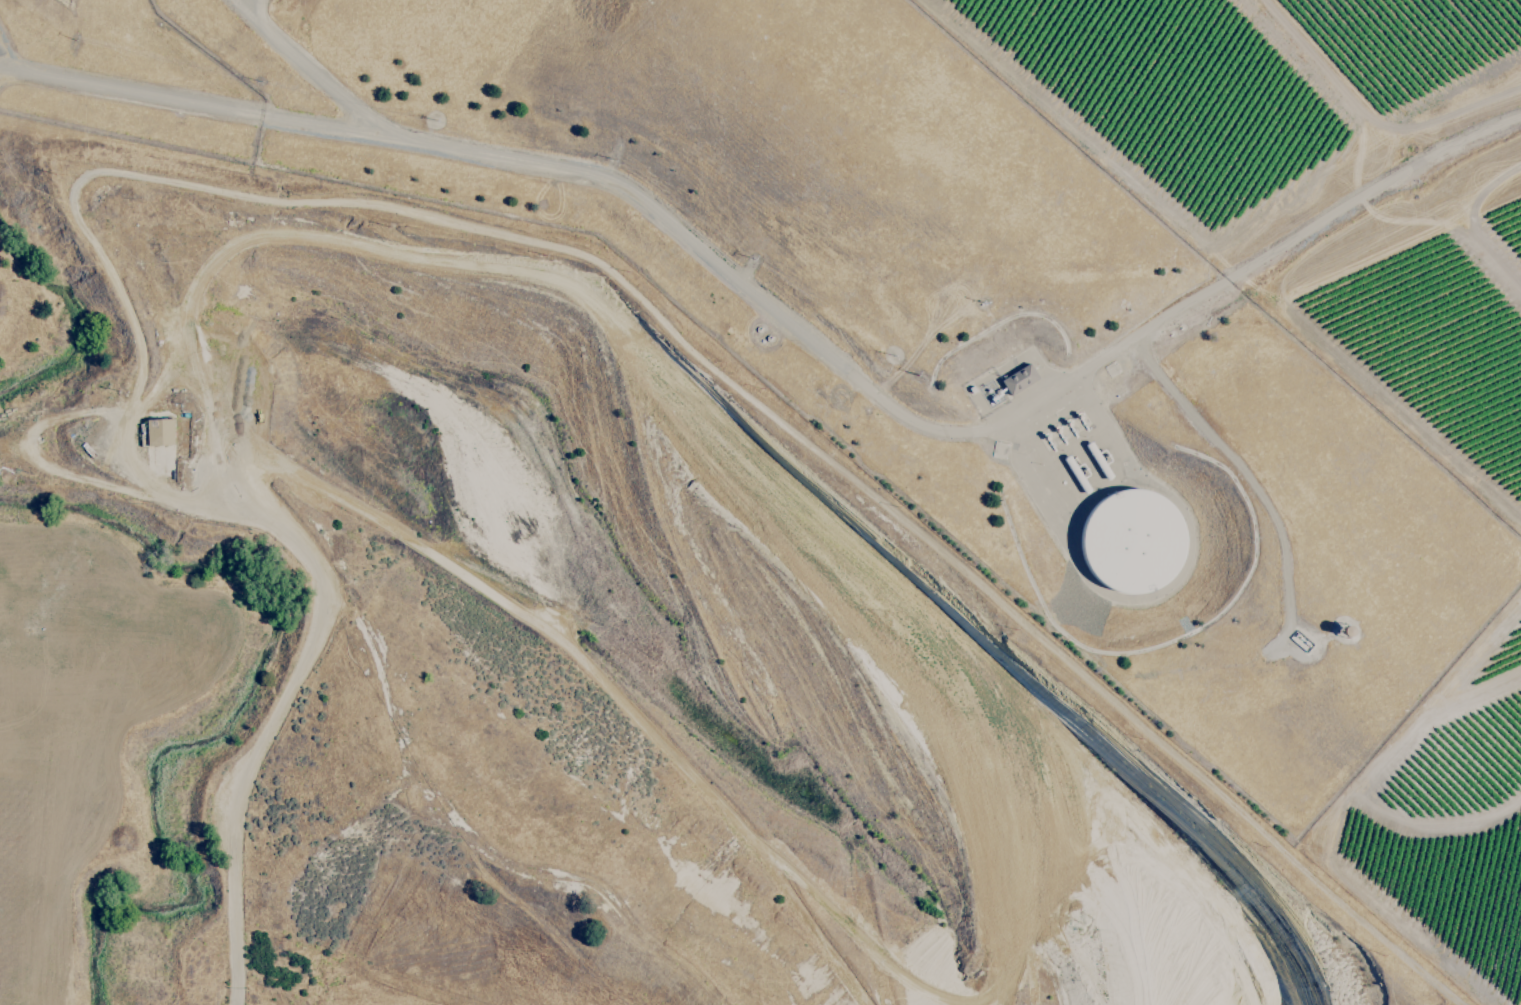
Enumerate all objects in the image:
crop: (63, 3)
crop: (1310, 183)
road: (791, 327)
building: (1018, 379)
building: (158, 432)
road: (1238, 466)
quarry: (661, 625)
road: (292, 682)
crop: (1435, 830)

